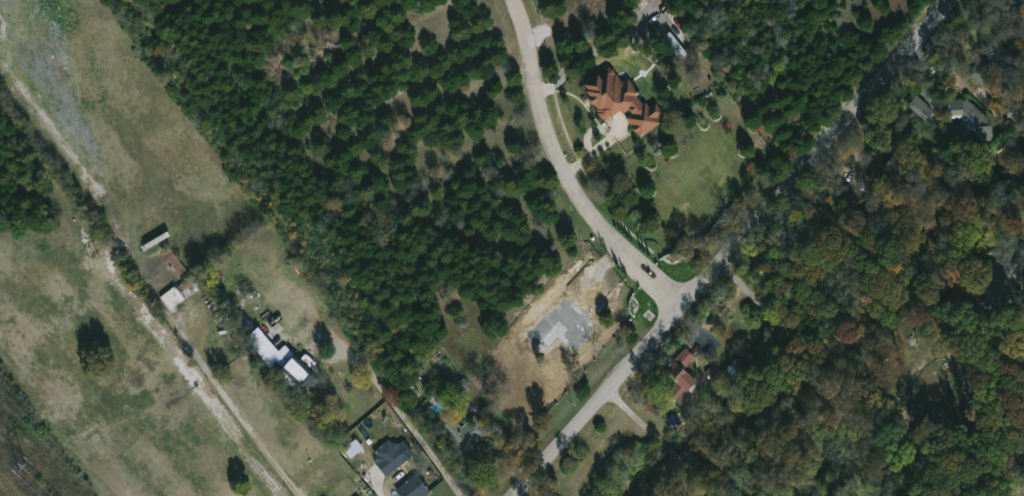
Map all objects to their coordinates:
building: (674, 46)
building: (995, 56)
building: (622, 101)
building: (921, 110)
building: (972, 118)
road: (612, 136)
road: (569, 170)
building: (899, 171)
building: (852, 201)
road: (731, 249)
building: (1000, 284)
building: (184, 292)
building: (243, 321)
building: (1001, 335)
building: (744, 351)
road: (813, 358)
building: (285, 361)
building: (713, 371)
building: (683, 374)
building: (931, 384)
road: (401, 412)
road: (243, 418)
building: (463, 432)
road: (660, 440)
building: (354, 449)
building: (393, 460)
road: (376, 486)
building: (413, 487)

